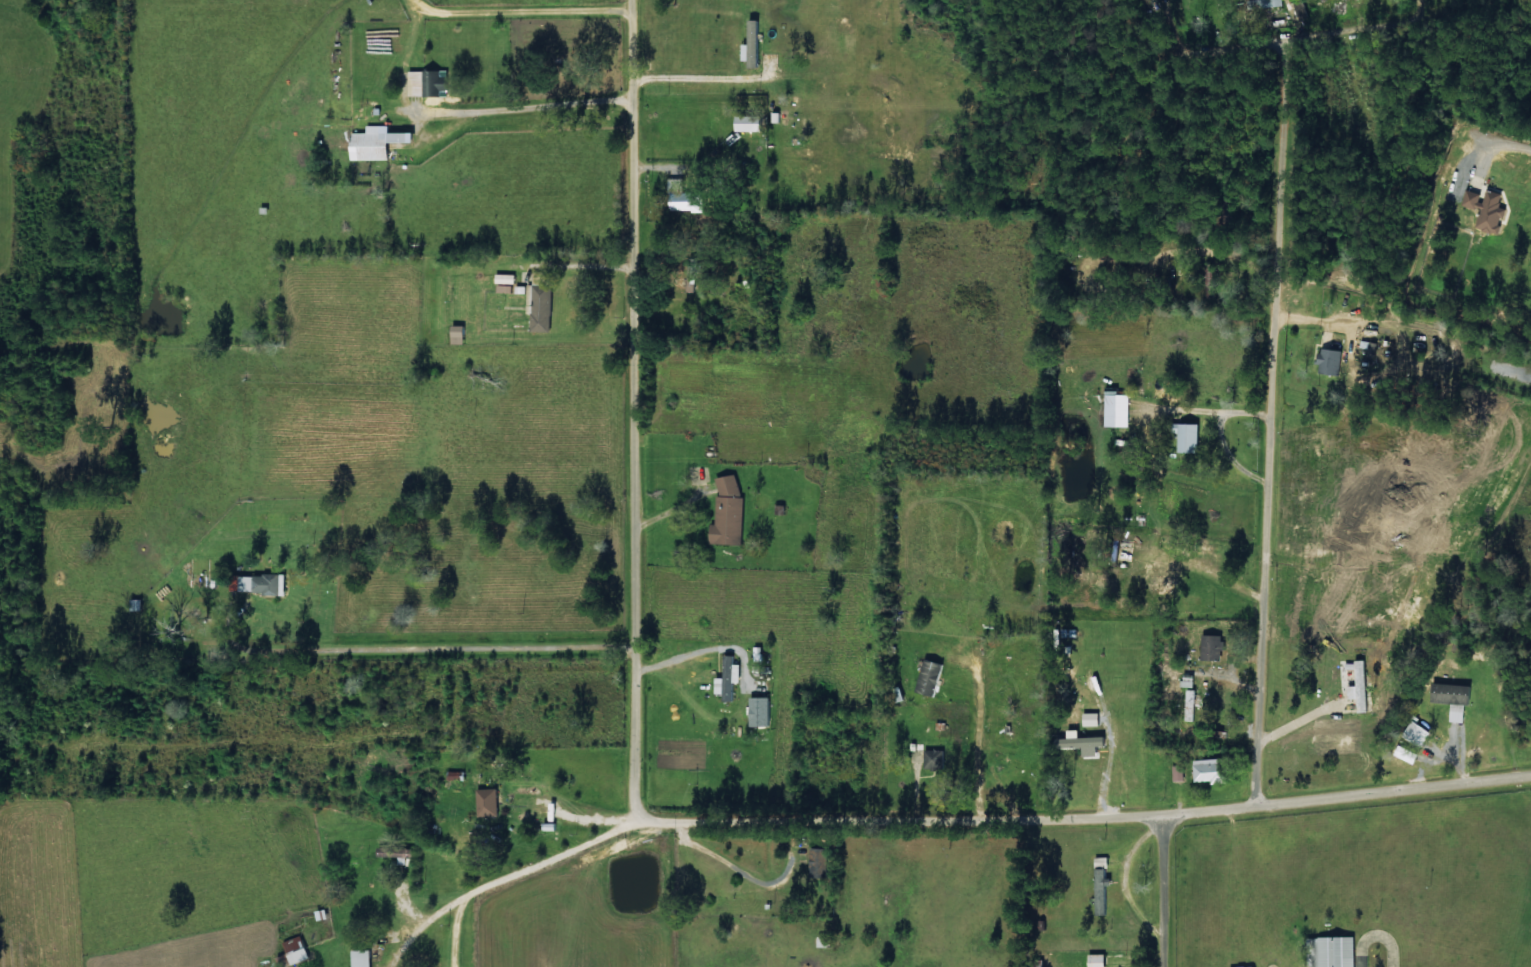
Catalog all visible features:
road: (44, 3)
building: (1266, 3)
building: (754, 44)
road: (1430, 44)
building: (429, 83)
building: (750, 123)
building: (376, 142)
building: (685, 196)
building: (1487, 208)
building: (694, 274)
building: (505, 282)
building: (541, 300)
building: (461, 334)
building: (1333, 361)
building: (1118, 410)
road: (657, 412)
road: (1275, 429)
building: (1191, 438)
building: (730, 513)
building: (1167, 576)
building: (260, 584)
building: (139, 604)
road: (486, 638)
building: (1209, 647)
building: (730, 677)
building: (932, 677)
building: (1185, 681)
building: (1357, 683)
building: (1451, 697)
building: (1188, 704)
building: (763, 712)
building: (1088, 718)
building: (1414, 733)
building: (1080, 742)
building: (933, 758)
building: (1209, 770)
building: (1177, 772)
building: (490, 801)
road: (1083, 816)
building: (397, 851)
building: (817, 862)
building: (1100, 884)
road: (1168, 891)
road: (480, 895)
building: (298, 949)
building: (1330, 951)
building: (363, 958)
building: (1094, 960)
building: (1033, 962)

